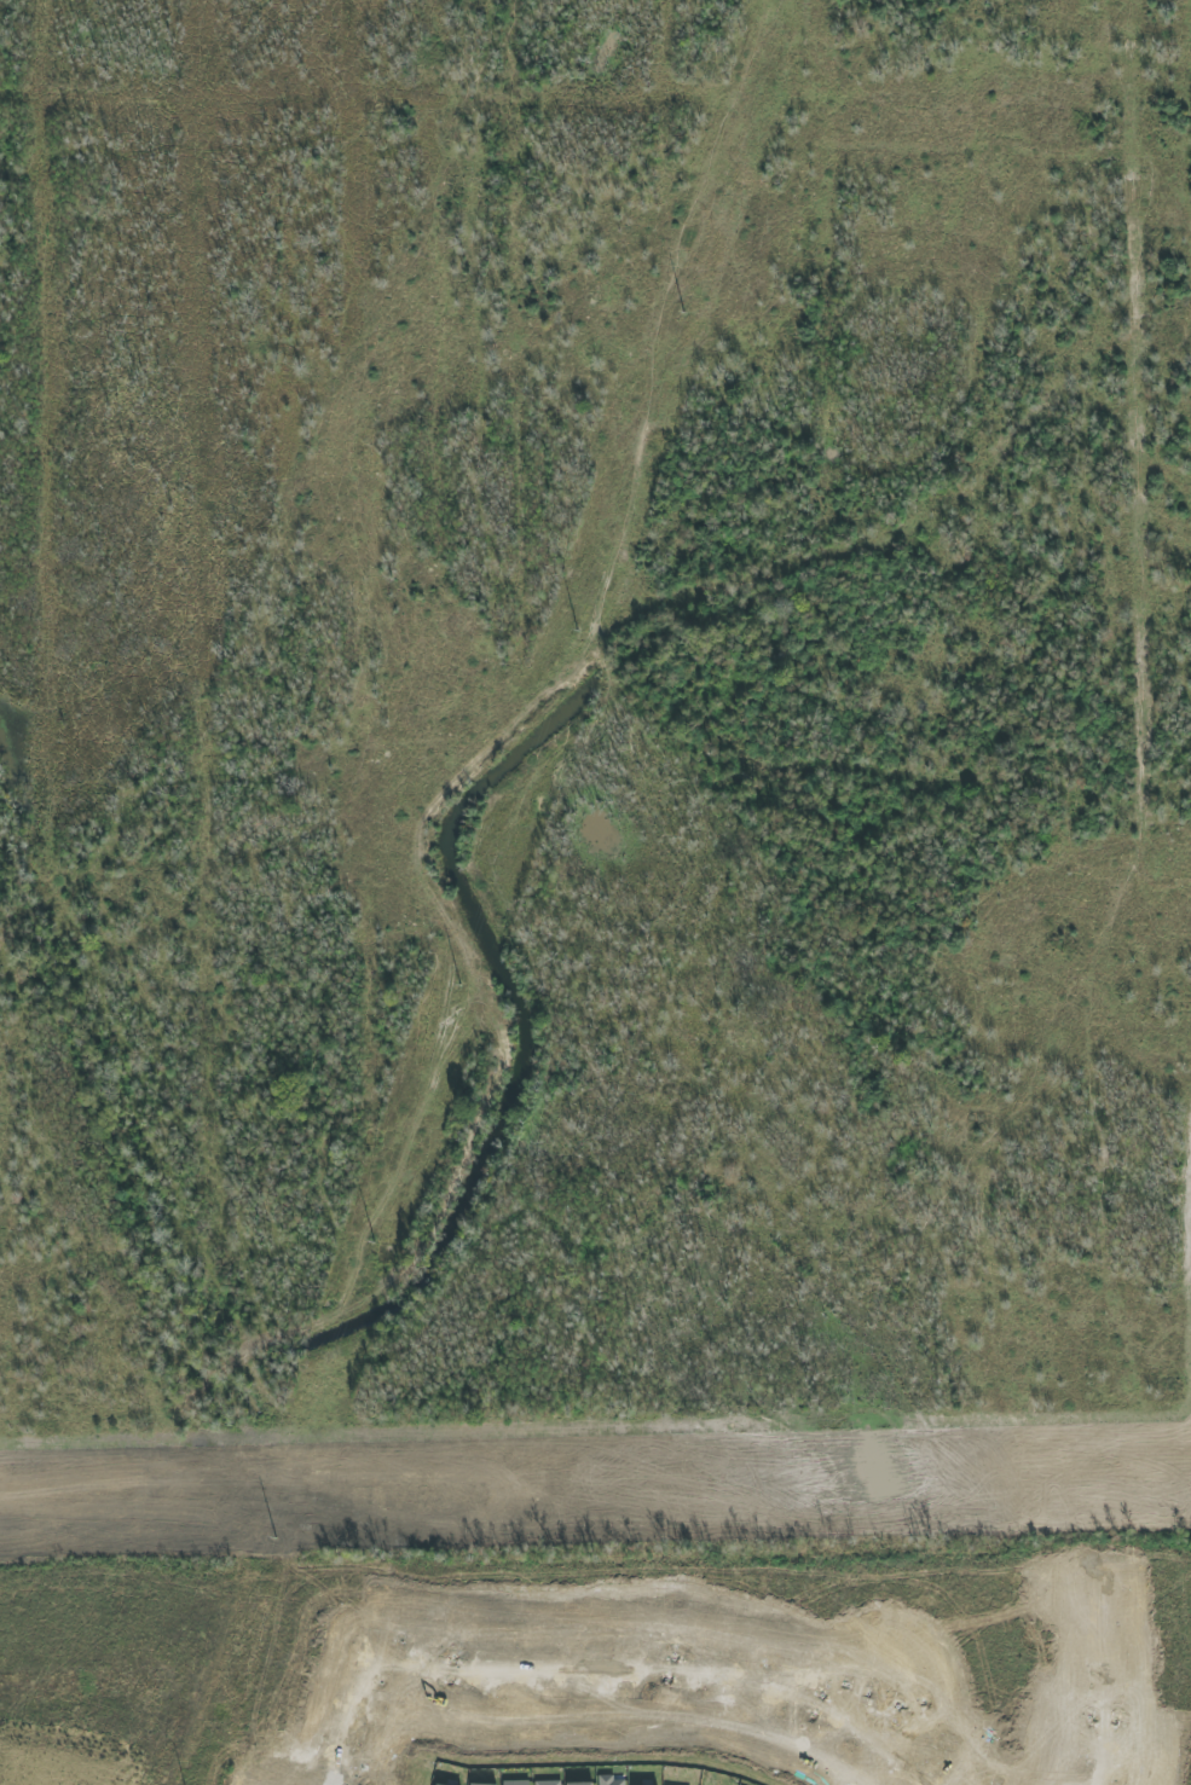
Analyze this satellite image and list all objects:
road: (786, 1462)
road: (191, 1494)
road: (787, 1515)
road: (192, 1532)
road: (895, 1670)
road: (371, 1674)
road: (665, 1674)
road: (1103, 1691)
building: (609, 1780)
building: (516, 1783)
building: (548, 1783)
building: (480, 1784)
building: (580, 1784)

